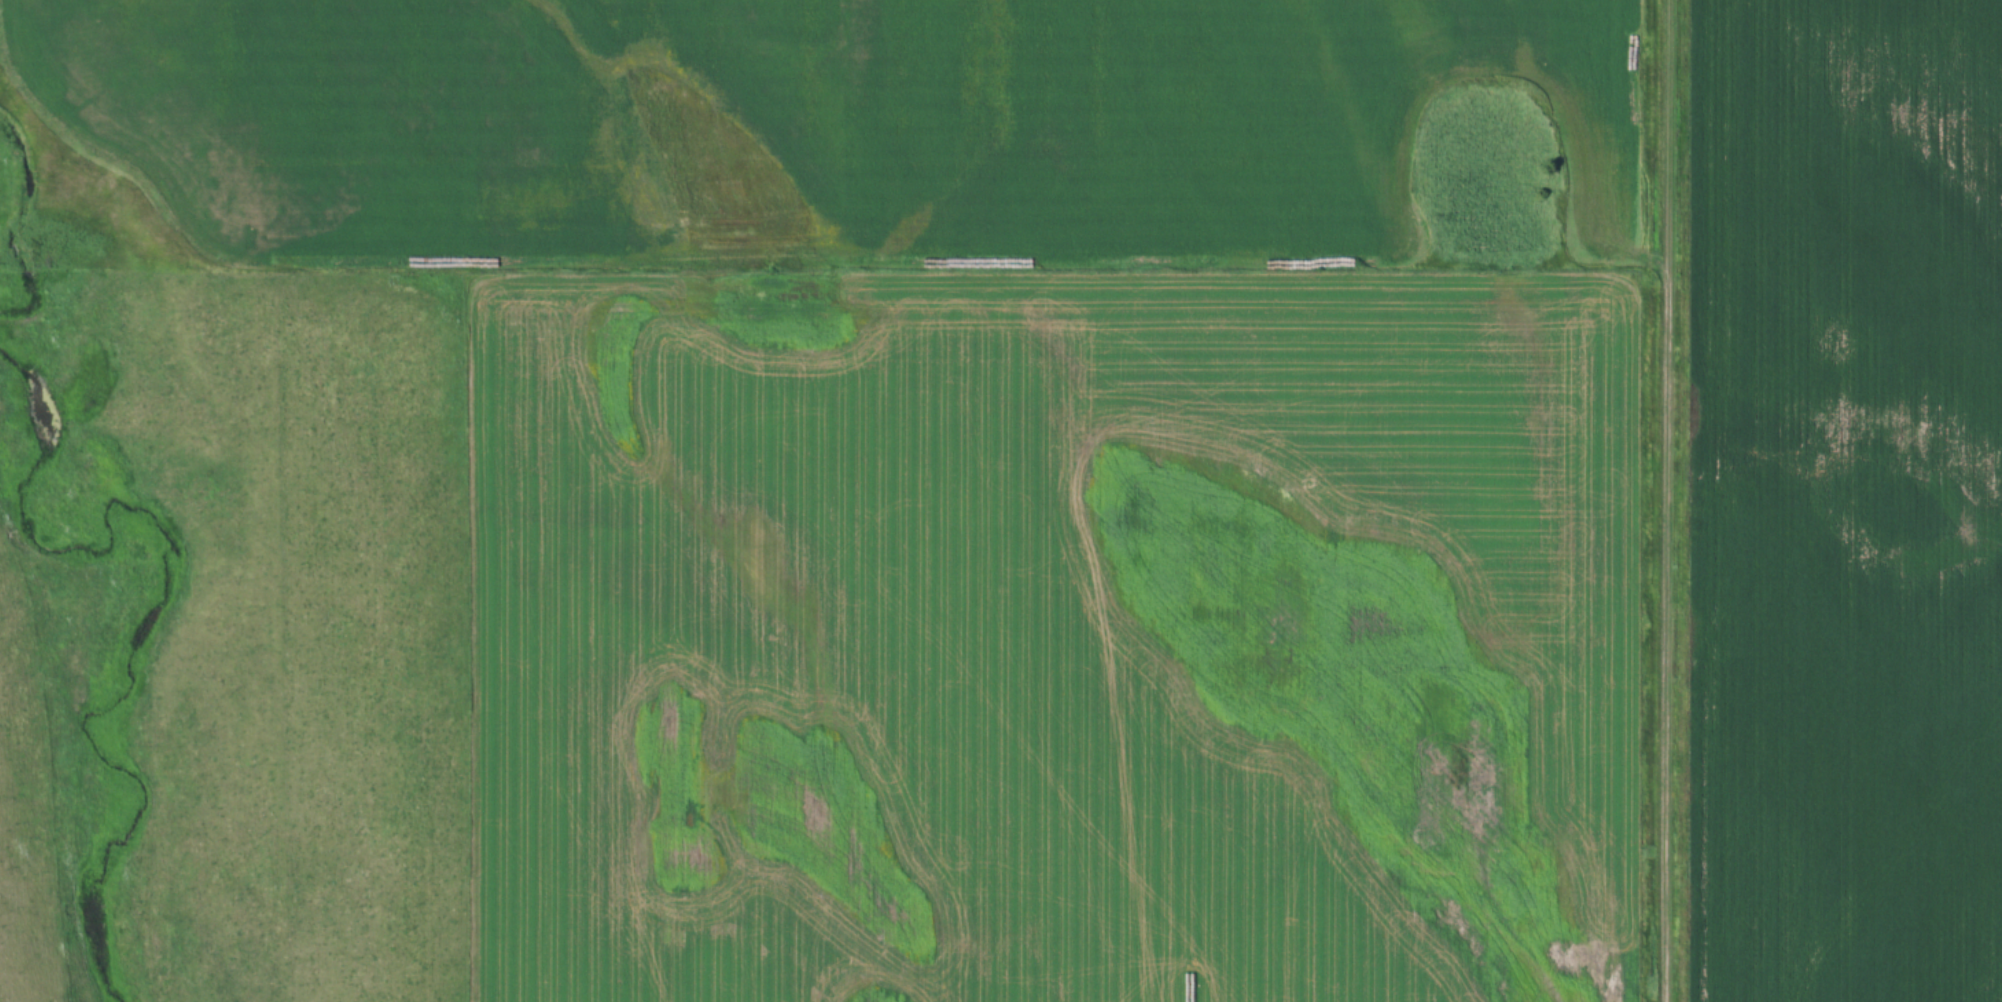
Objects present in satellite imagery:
road: (1663, 501)

